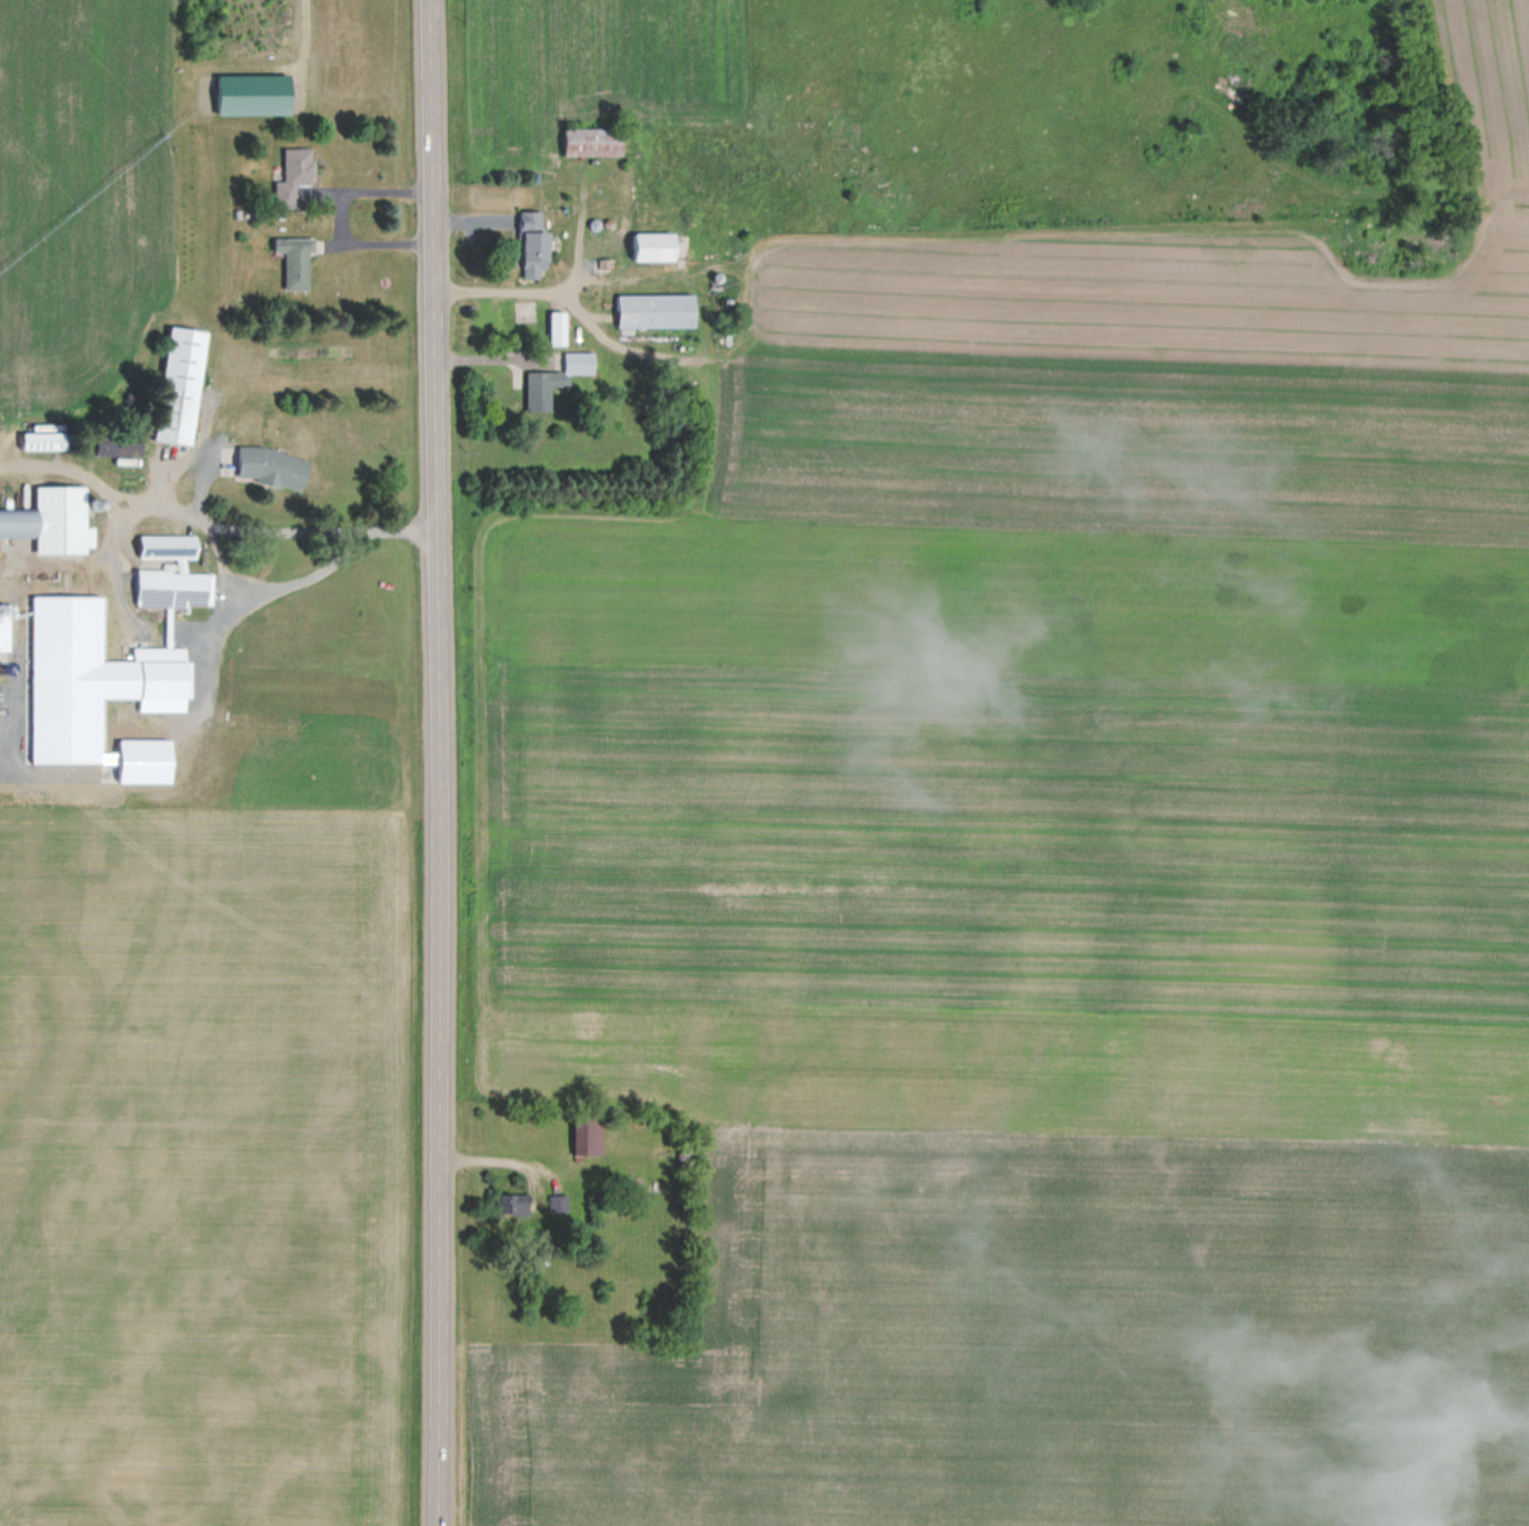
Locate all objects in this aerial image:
building: (254, 94)
building: (592, 141)
building: (294, 175)
building: (533, 244)
building: (634, 247)
building: (296, 261)
building: (656, 311)
building: (557, 328)
building: (556, 380)
building: (180, 386)
building: (44, 441)
building: (118, 446)
building: (272, 468)
building: (18, 522)
building: (124, 612)
road: (443, 762)
building: (589, 1134)
building: (559, 1203)
building: (513, 1204)

